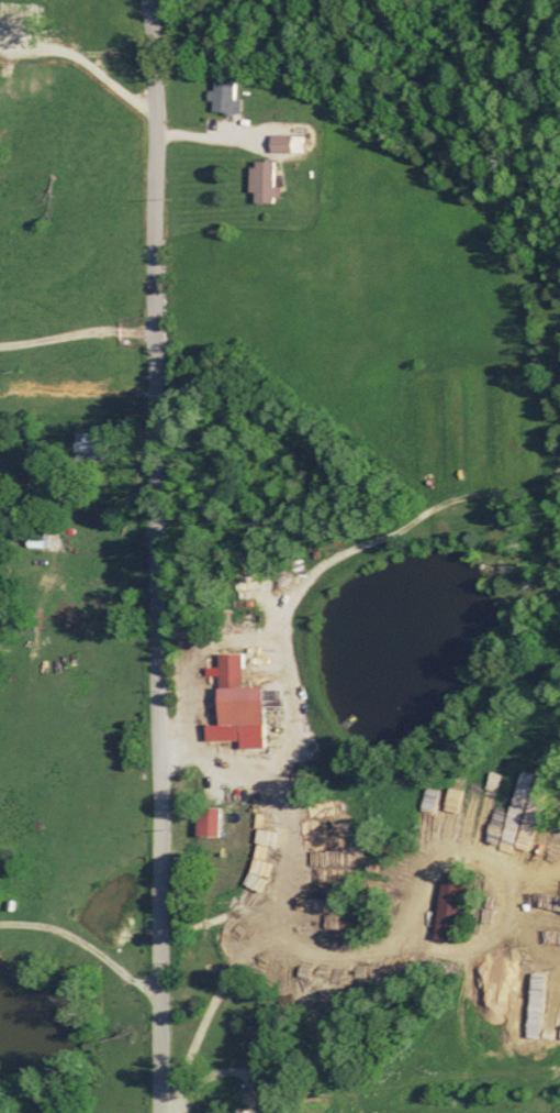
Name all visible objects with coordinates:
building: (223, 96)
building: (283, 142)
building: (260, 181)
road: (77, 334)
building: (85, 445)
building: (32, 536)
road: (156, 555)
building: (236, 693)
road: (296, 719)
building: (204, 820)
building: (445, 908)
road: (85, 941)
building: (242, 1110)

